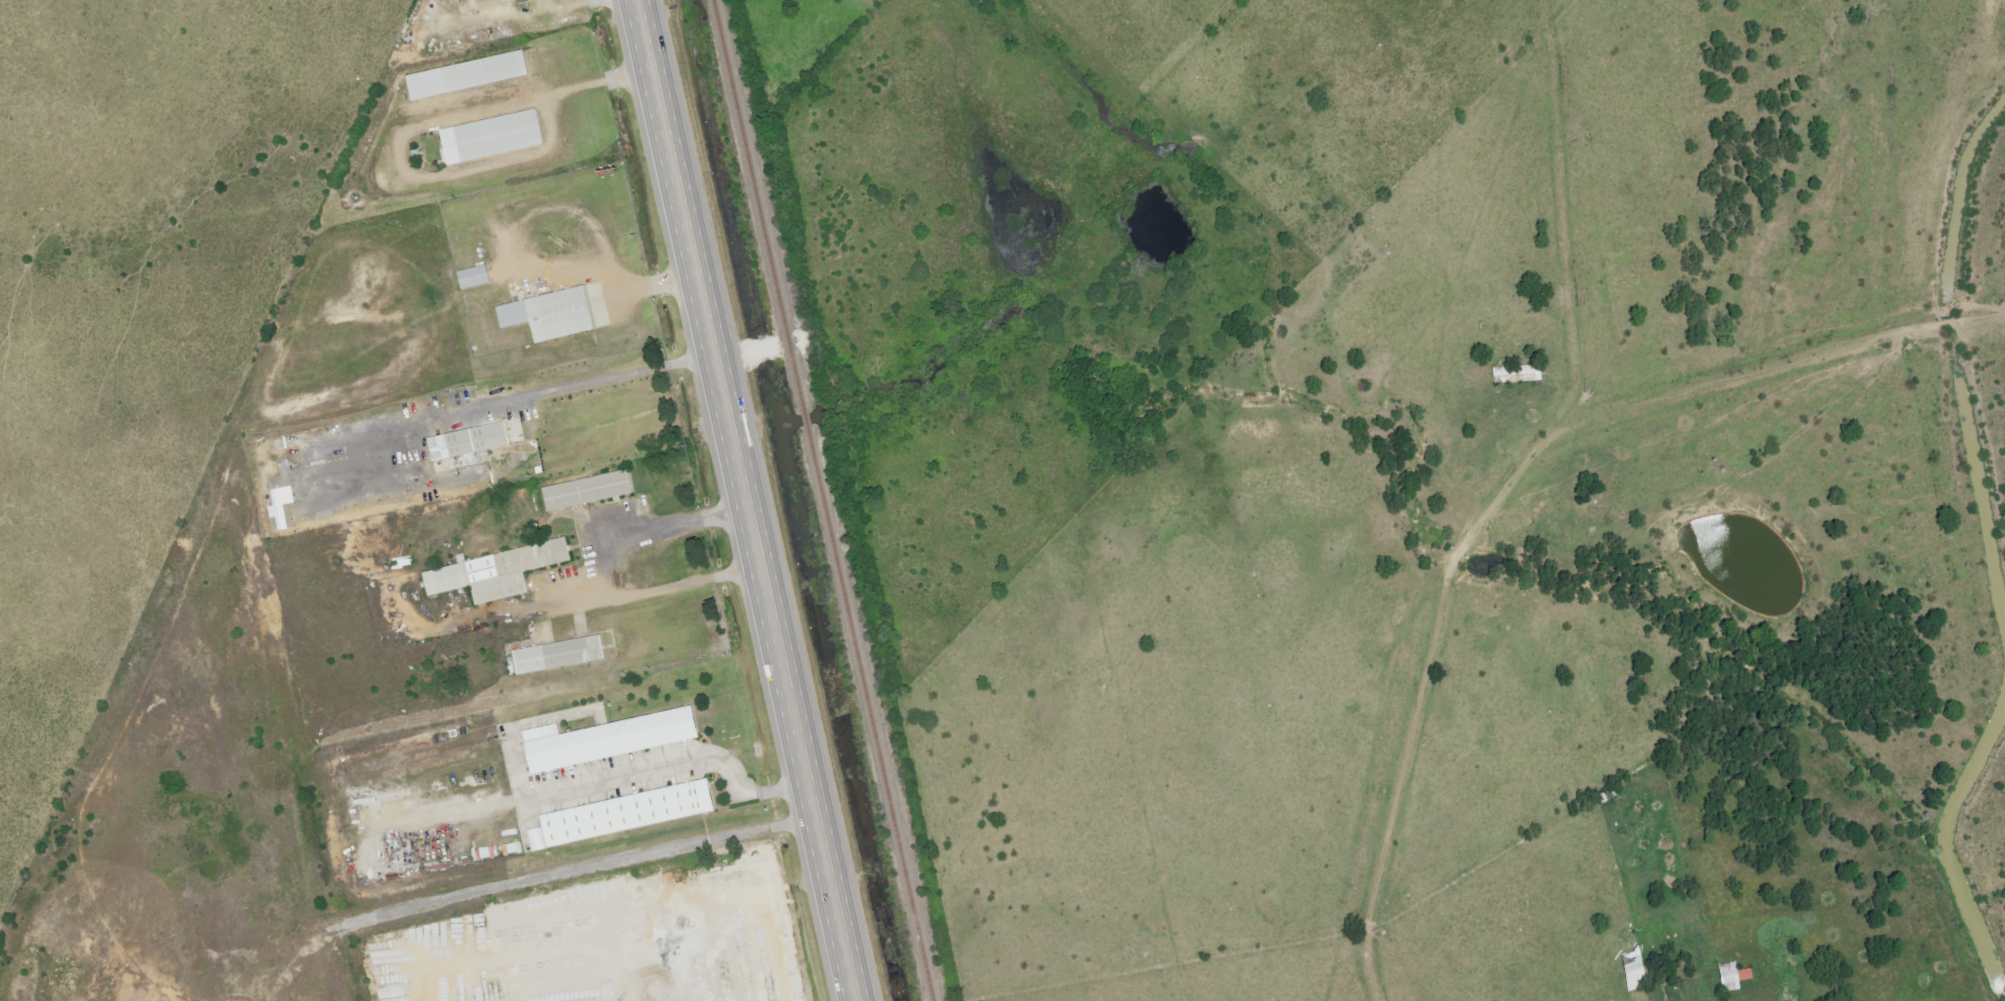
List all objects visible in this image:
building: (485, 72)
road: (406, 132)
building: (492, 137)
road: (609, 273)
building: (465, 275)
building: (478, 276)
parking lot: (615, 299)
building: (560, 314)
building: (1522, 374)
road: (461, 413)
building: (479, 440)
building: (588, 491)
road: (740, 500)
railway: (820, 500)
building: (284, 506)
parking lot: (598, 560)
road: (612, 567)
building: (498, 572)
building: (559, 655)
building: (614, 740)
road: (674, 766)
parking lot: (620, 776)
building: (624, 813)
building: (1638, 969)
building: (1737, 976)

